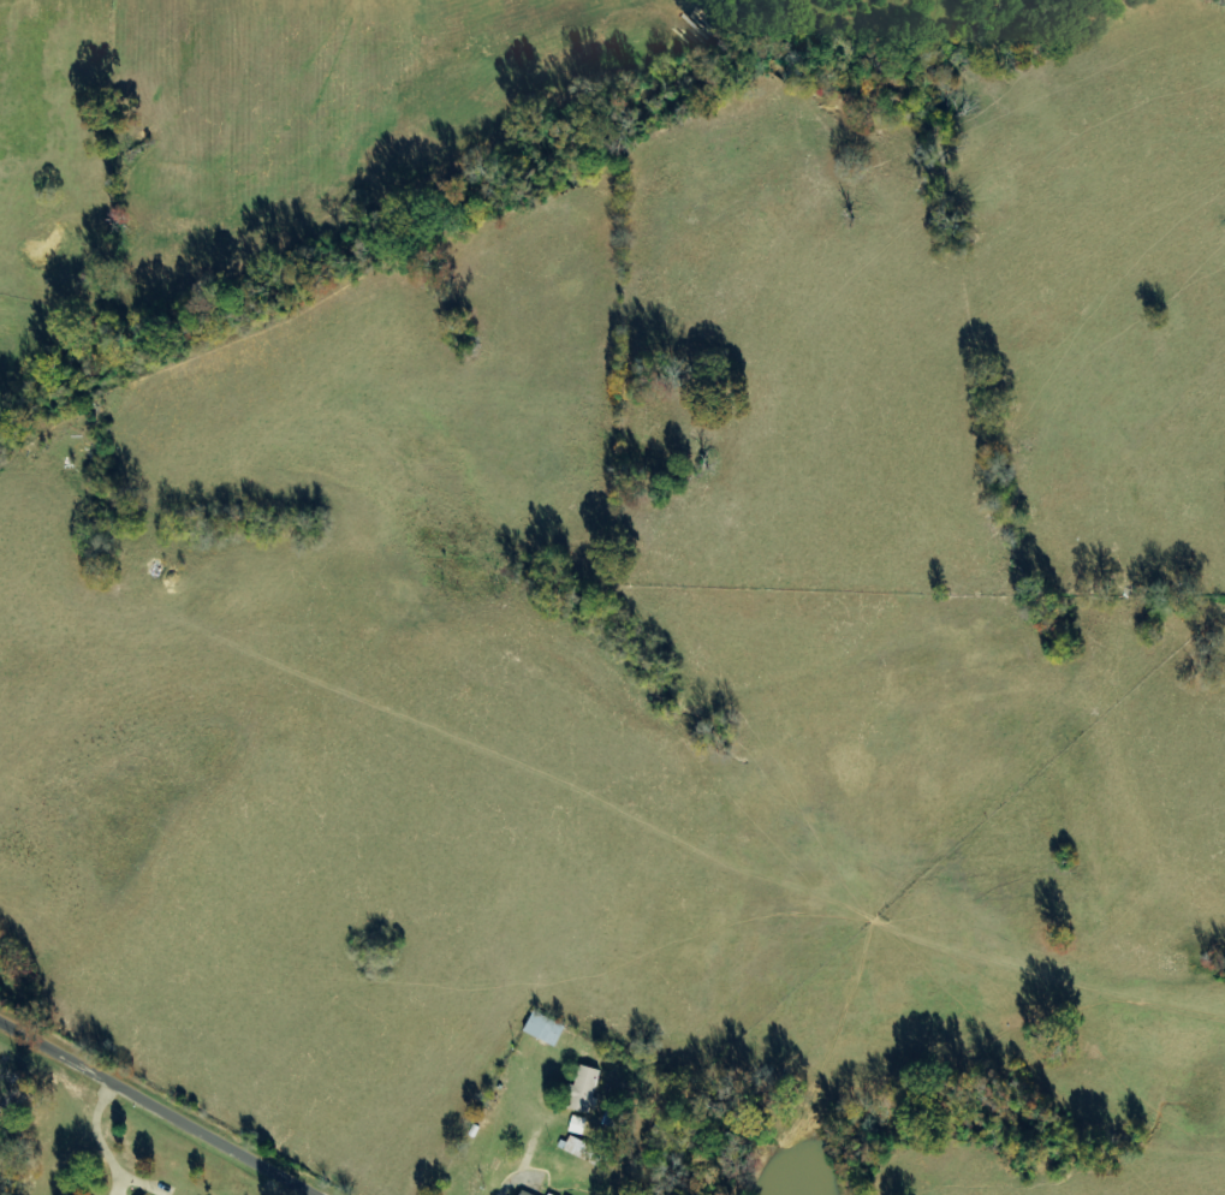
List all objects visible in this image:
road: (1138, 983)
building: (547, 1028)
building: (587, 1089)
road: (150, 1110)
building: (578, 1125)
building: (583, 1149)
building: (527, 1193)

